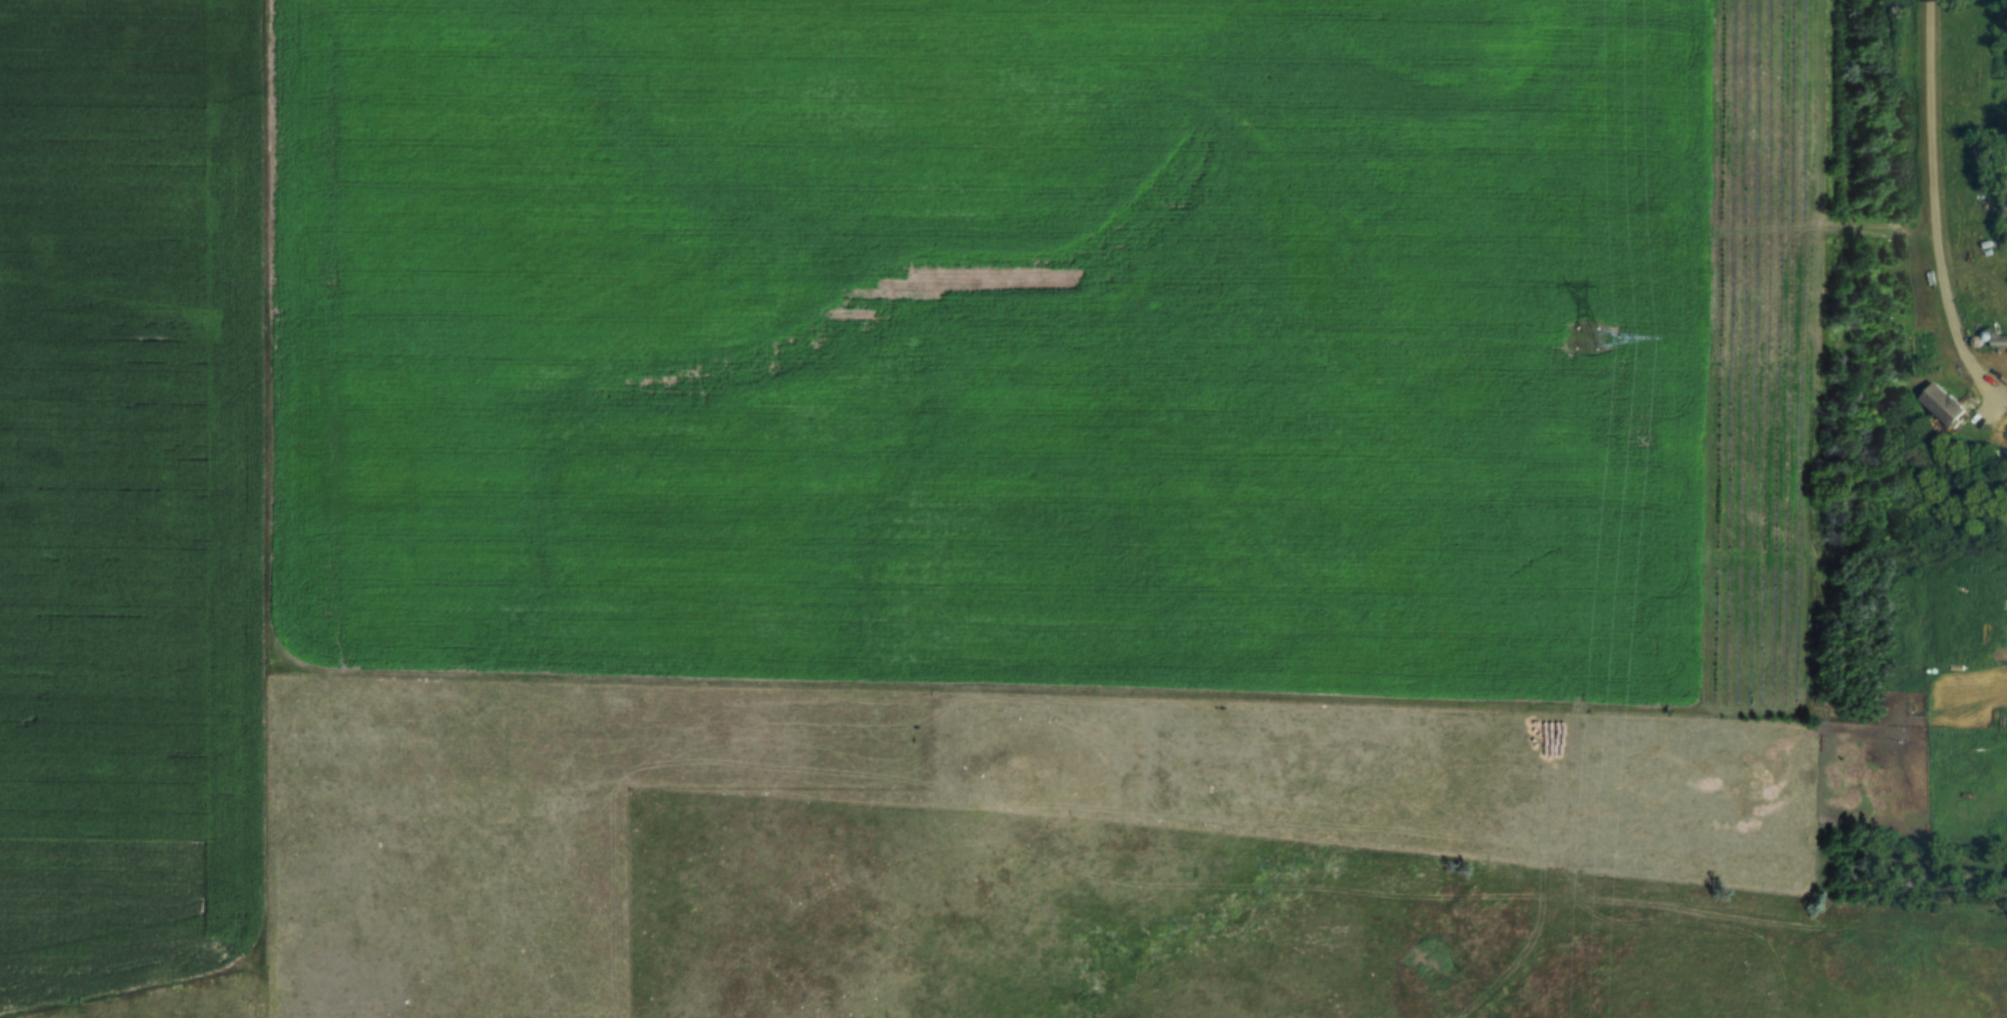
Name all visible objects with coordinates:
power tower: (1586, 339)
building: (2001, 341)
building: (1942, 405)

